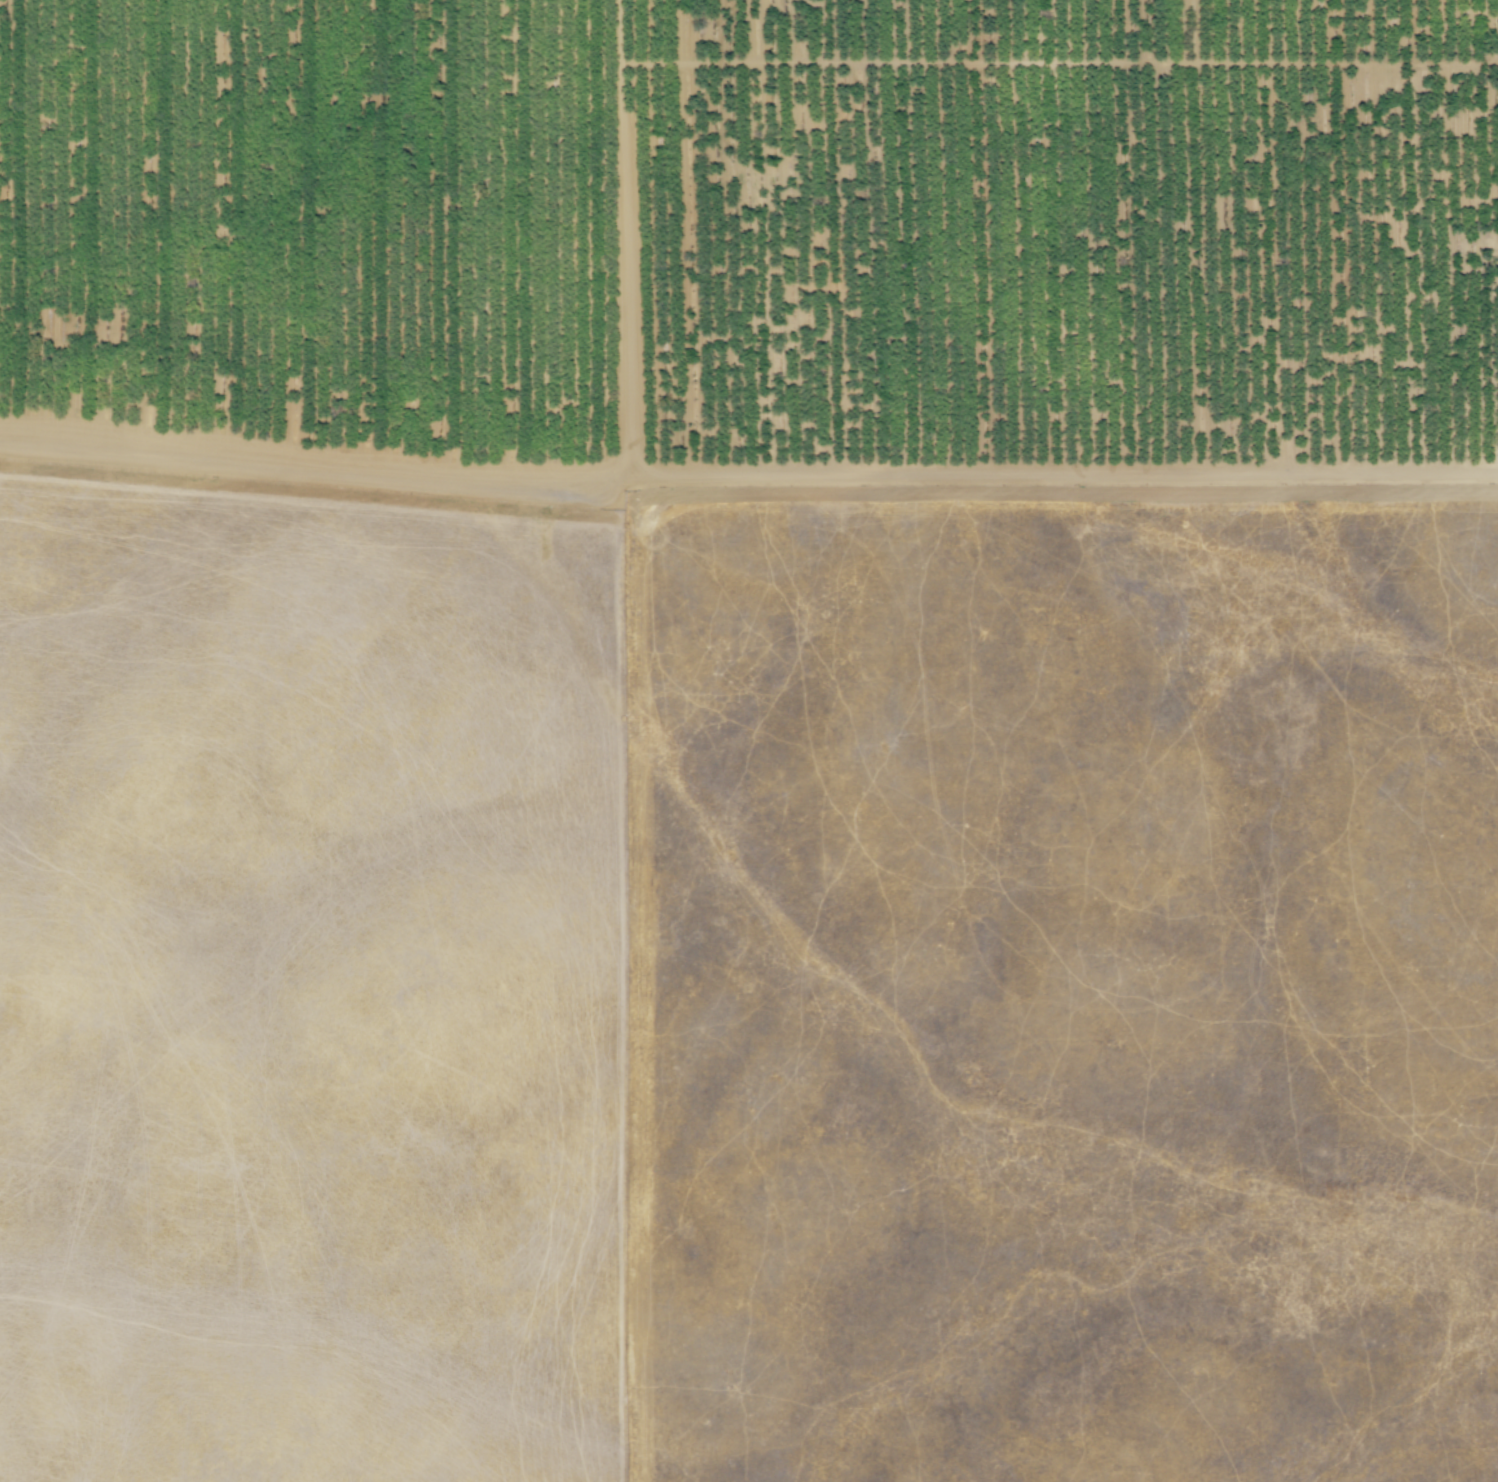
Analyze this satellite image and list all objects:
road: (857, 63)
road: (313, 455)
road: (1063, 471)
road: (629, 490)
road: (1103, 498)
road: (635, 512)

